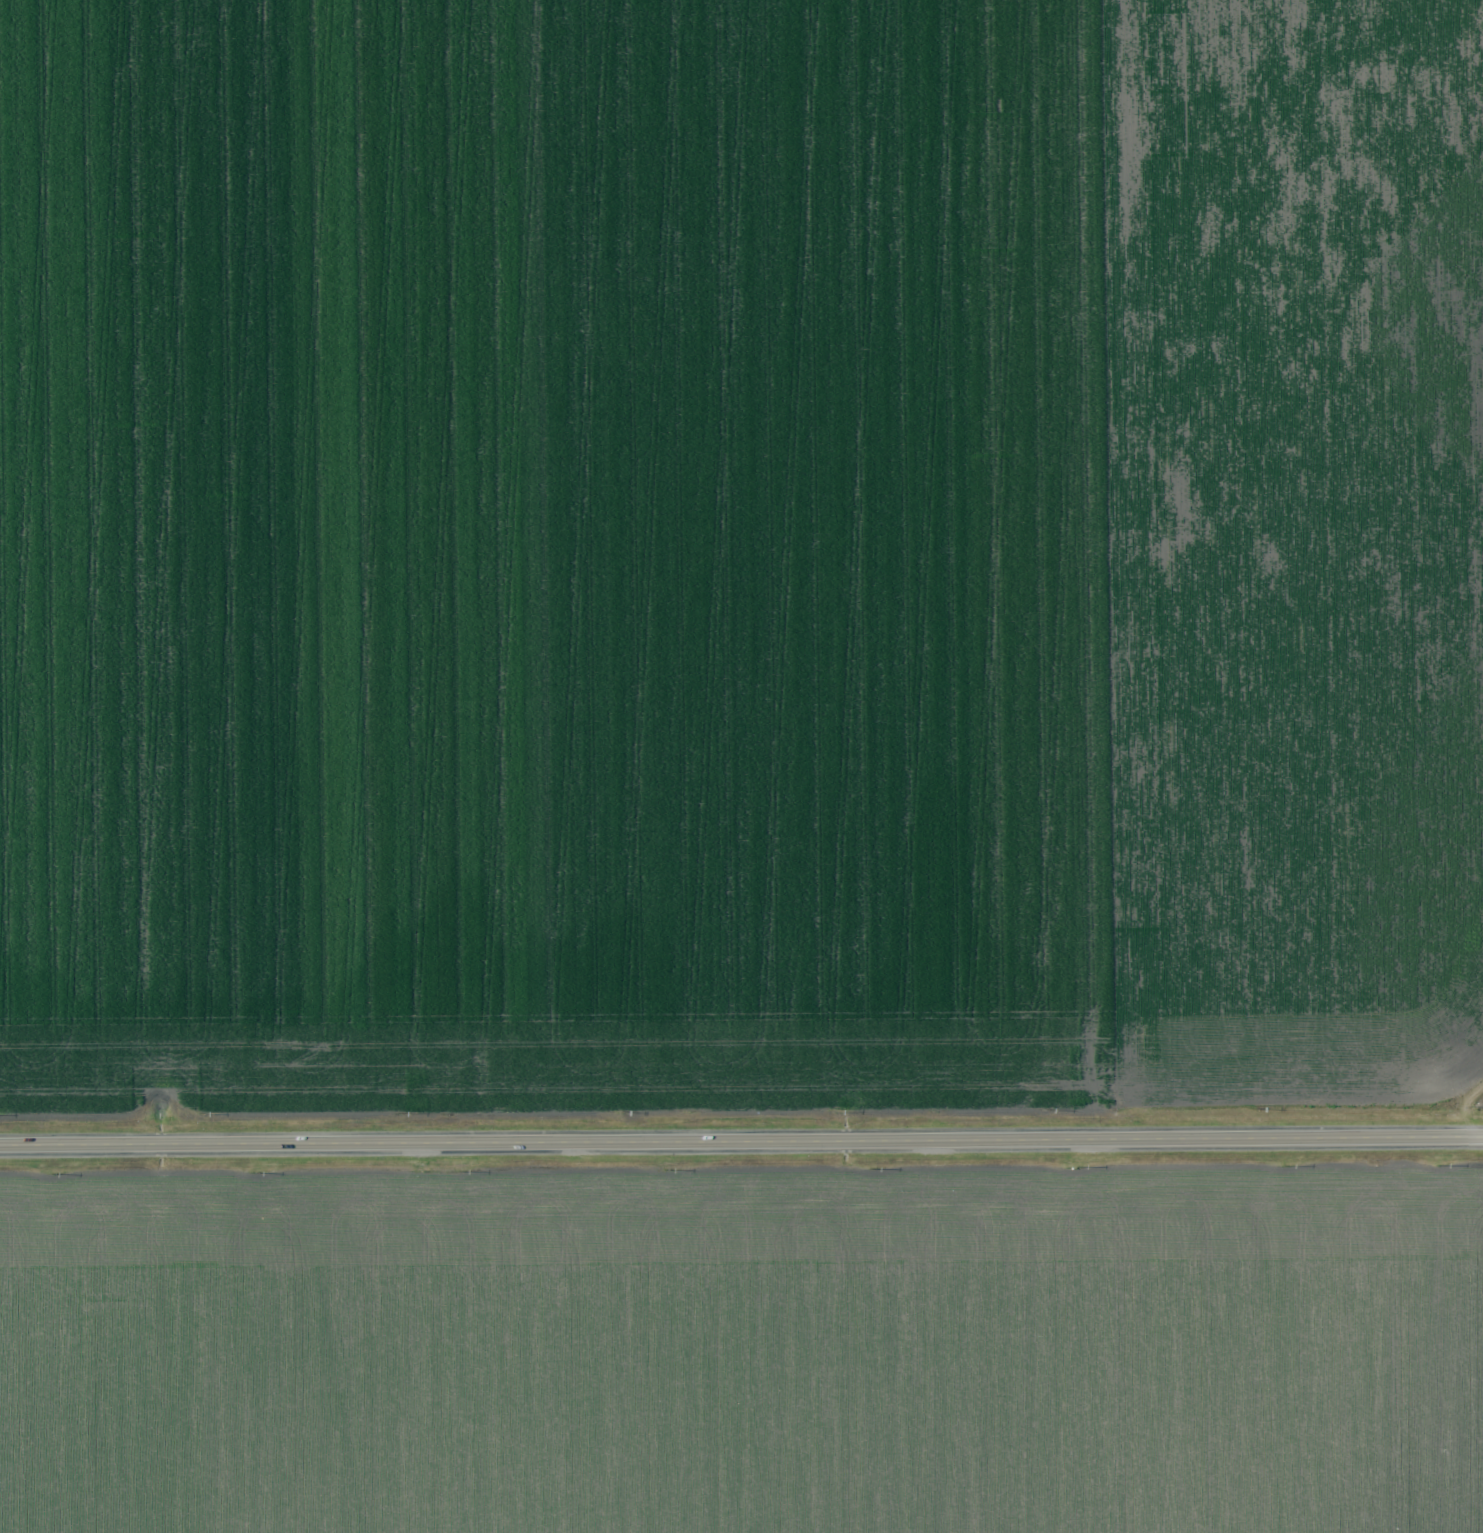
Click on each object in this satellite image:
road: (741, 1141)

